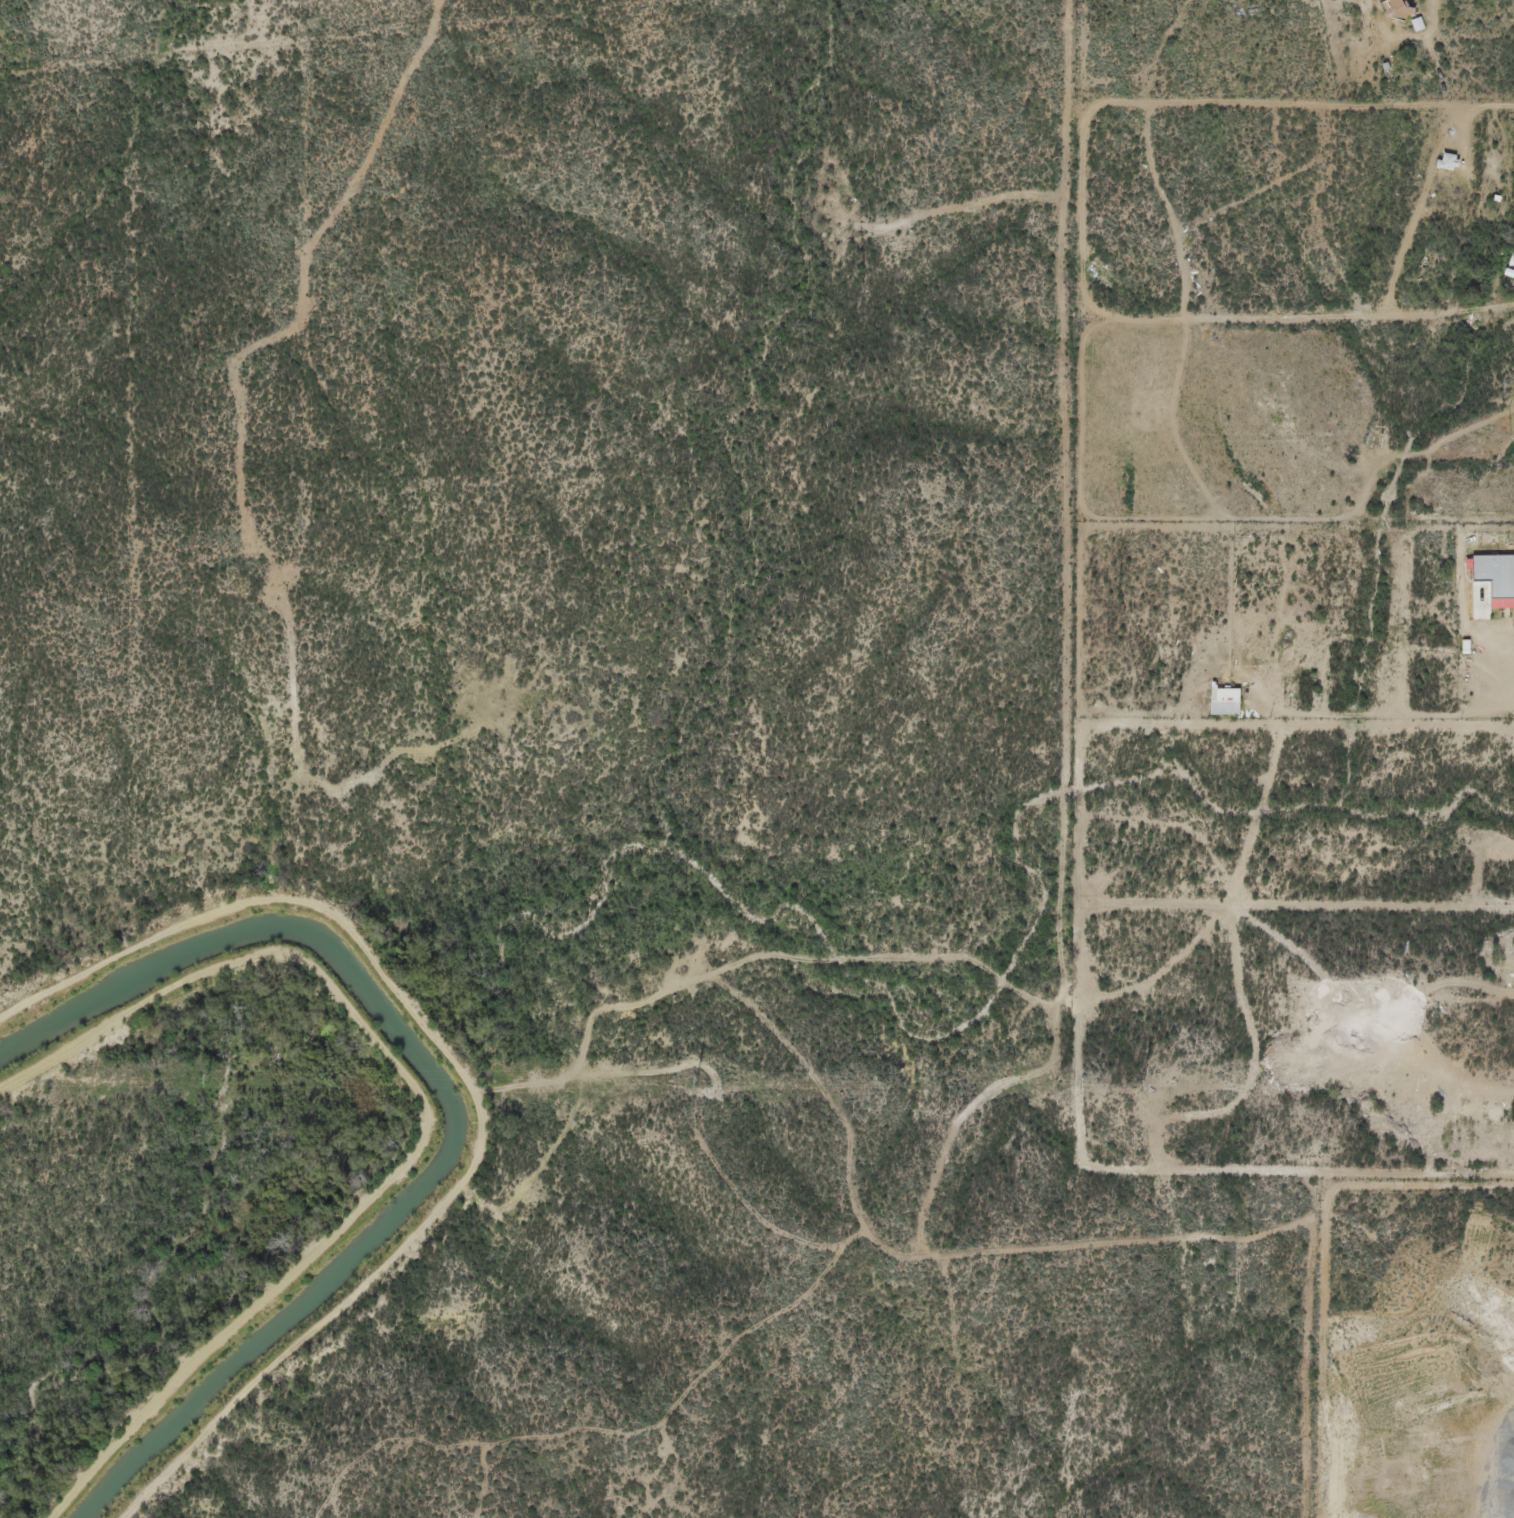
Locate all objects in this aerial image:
building: (1386, 10)
road: (1451, 106)
building: (1440, 163)
building: (1493, 580)
road: (1507, 609)
building: (1251, 672)
building: (1217, 703)
road: (1283, 710)
road: (1370, 1005)
power tower: (210, 1078)
power tower: (699, 1081)
power tower: (1146, 1084)
road: (1059, 1250)
road: (612, 1433)

